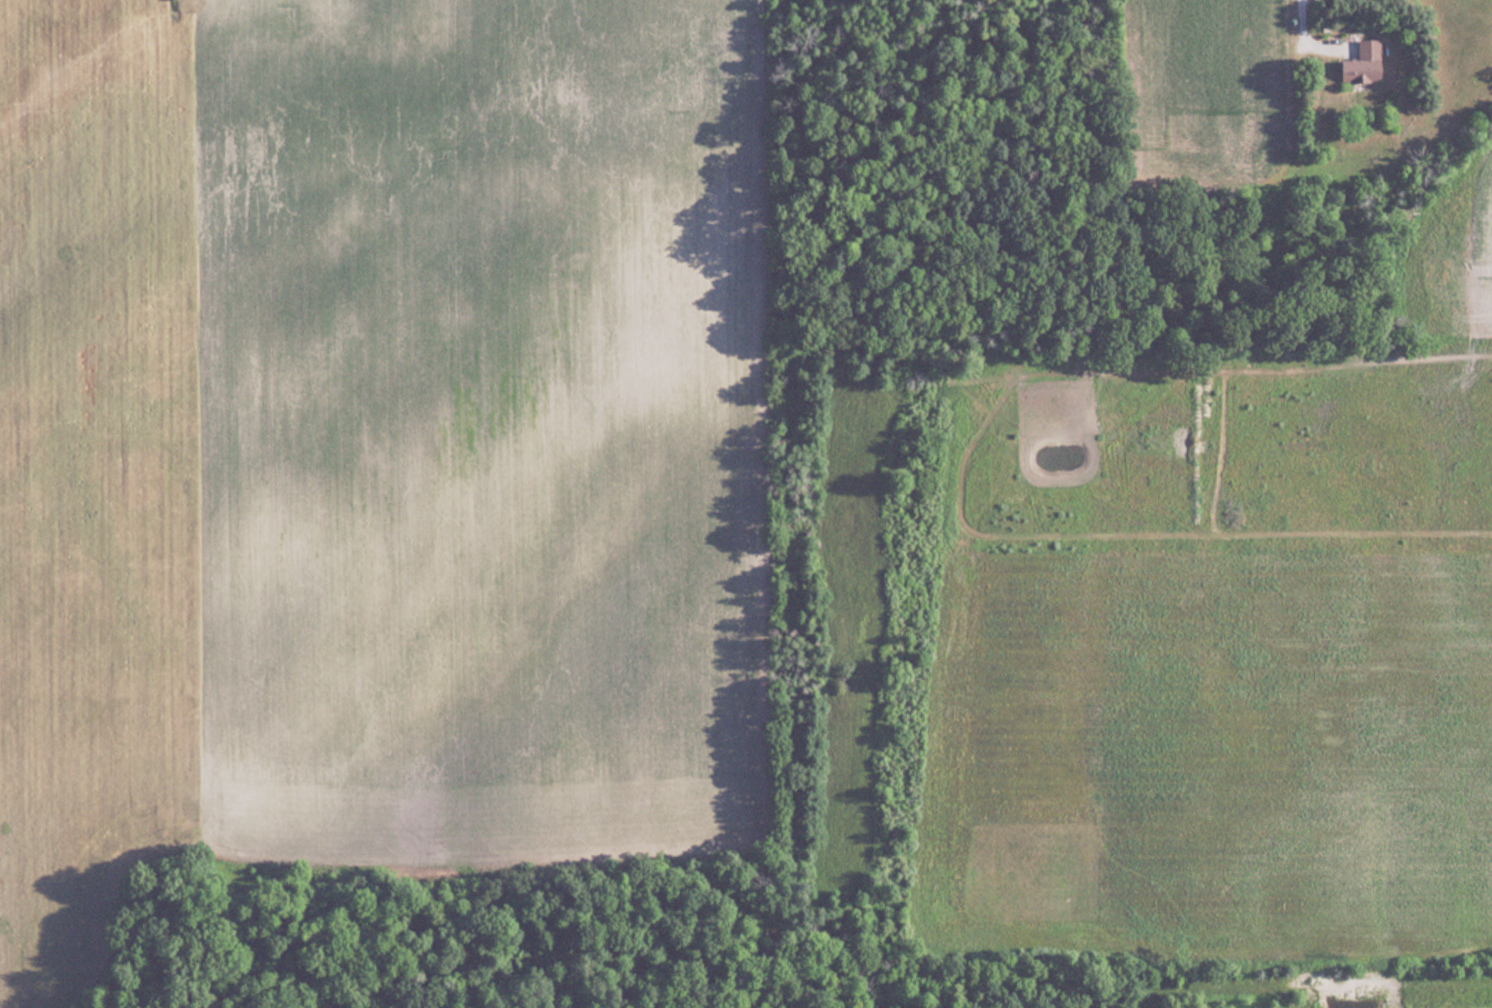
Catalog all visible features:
road: (1309, 30)
building: (1365, 61)

